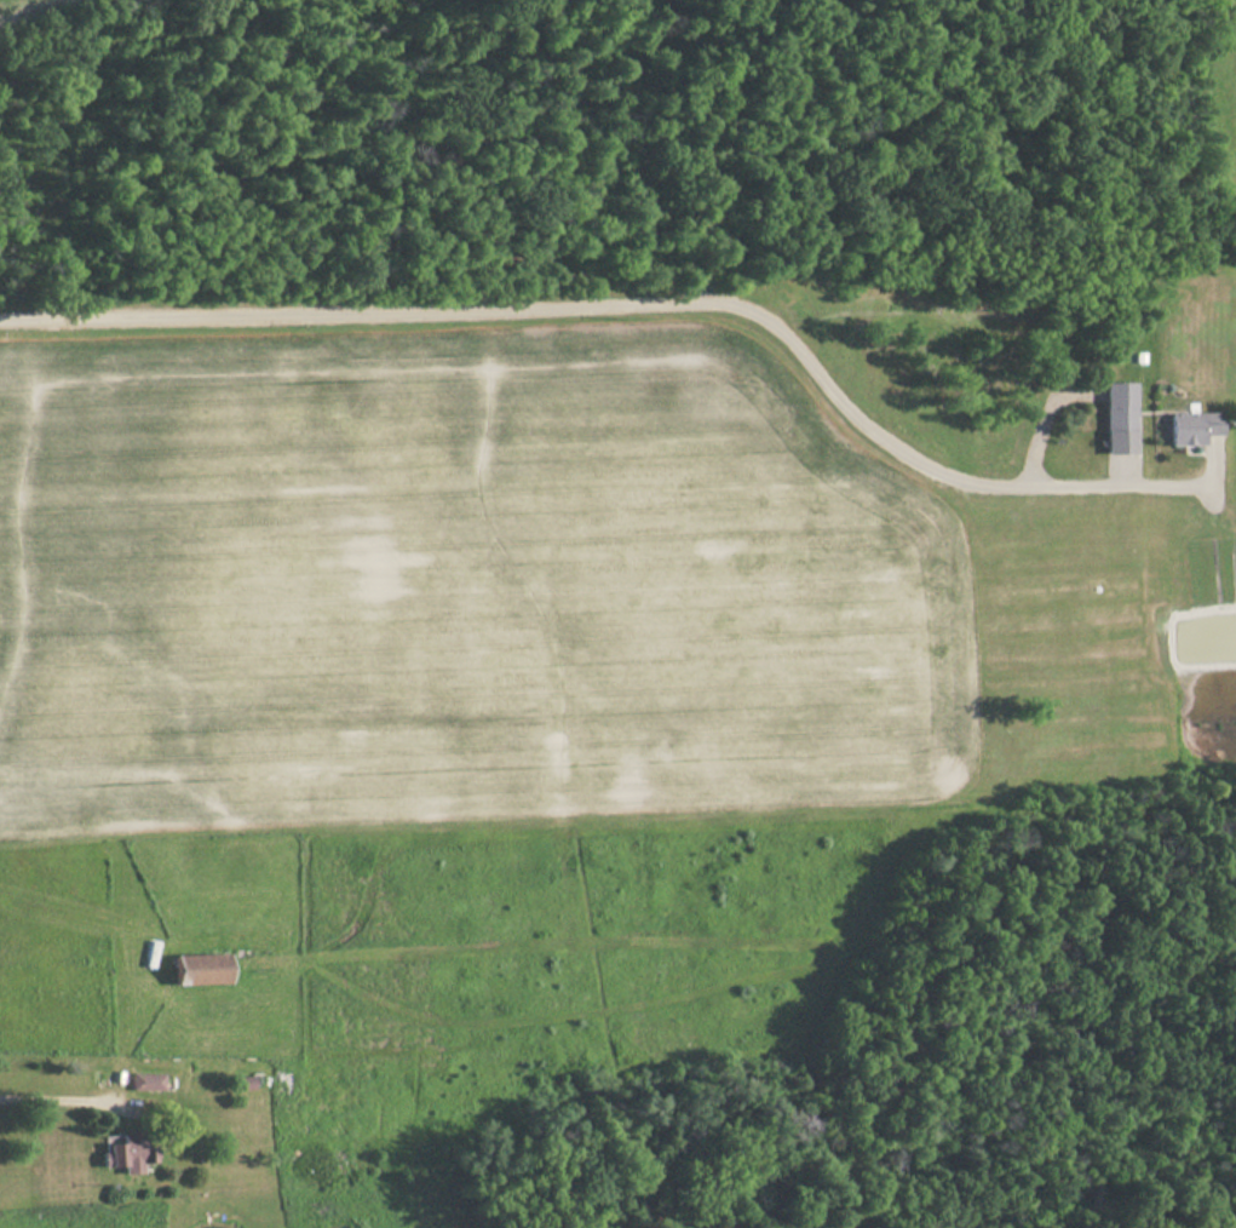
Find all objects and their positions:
building: (1119, 418)
building: (1194, 427)
building: (201, 968)
building: (146, 1081)
building: (130, 1152)

